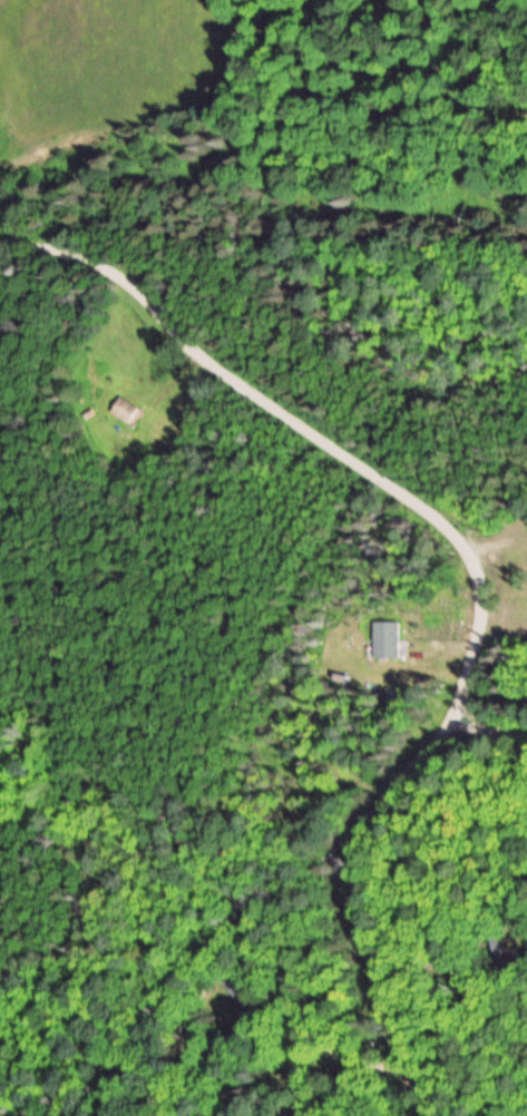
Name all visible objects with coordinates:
building: (125, 410)
road: (475, 576)
building: (386, 639)
road: (448, 648)
road: (486, 730)

